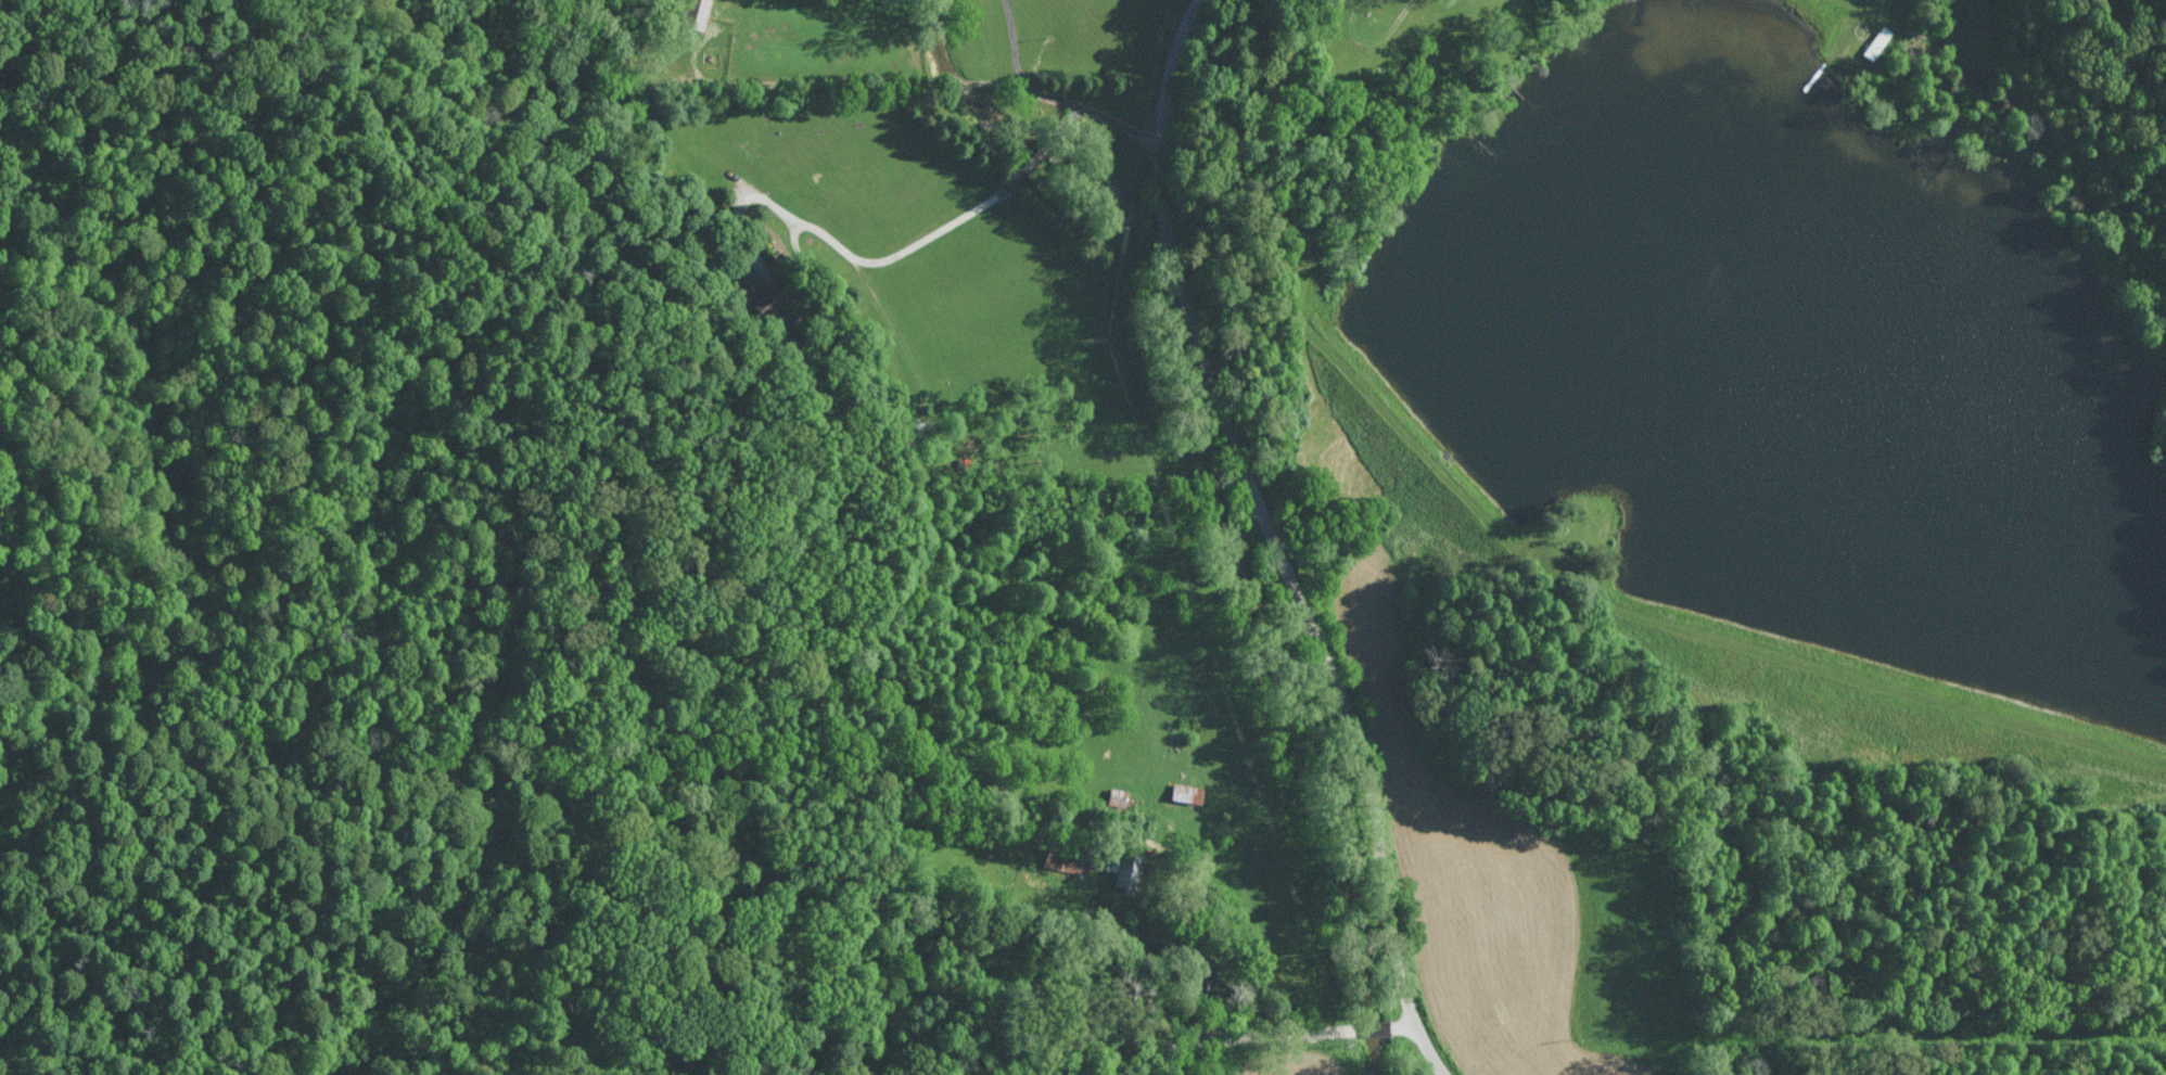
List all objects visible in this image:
building: (693, 10)
road: (1052, 94)
road: (1069, 114)
road: (1042, 146)
road: (857, 259)
building: (764, 306)
road: (1275, 540)
building: (1067, 860)
building: (1124, 870)
road: (1404, 1027)
road: (1376, 1028)
road: (1184, 1046)

